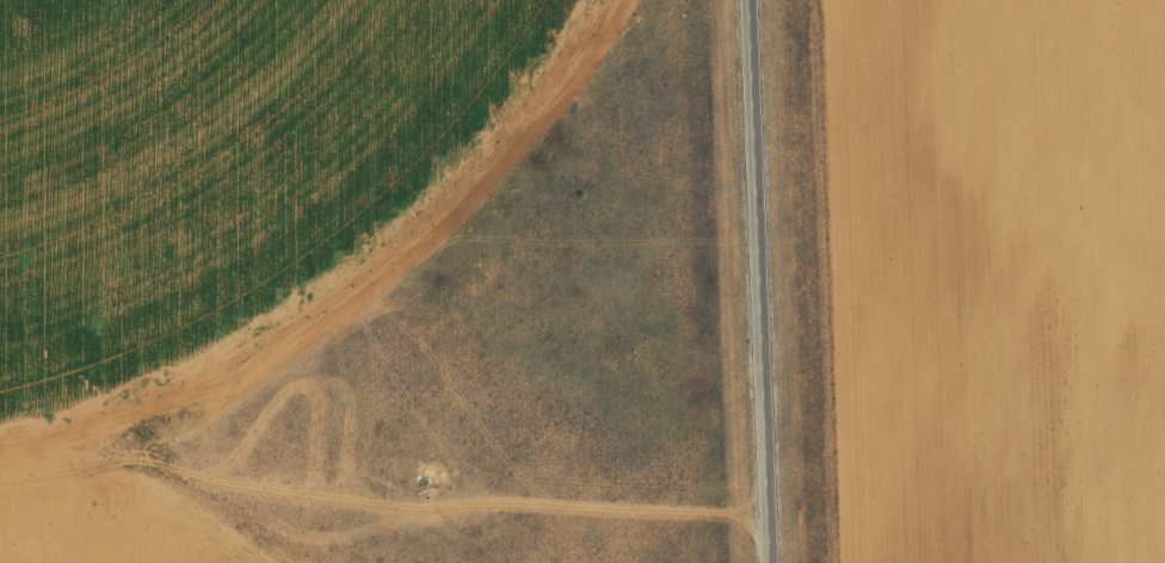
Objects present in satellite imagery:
road: (758, 281)

